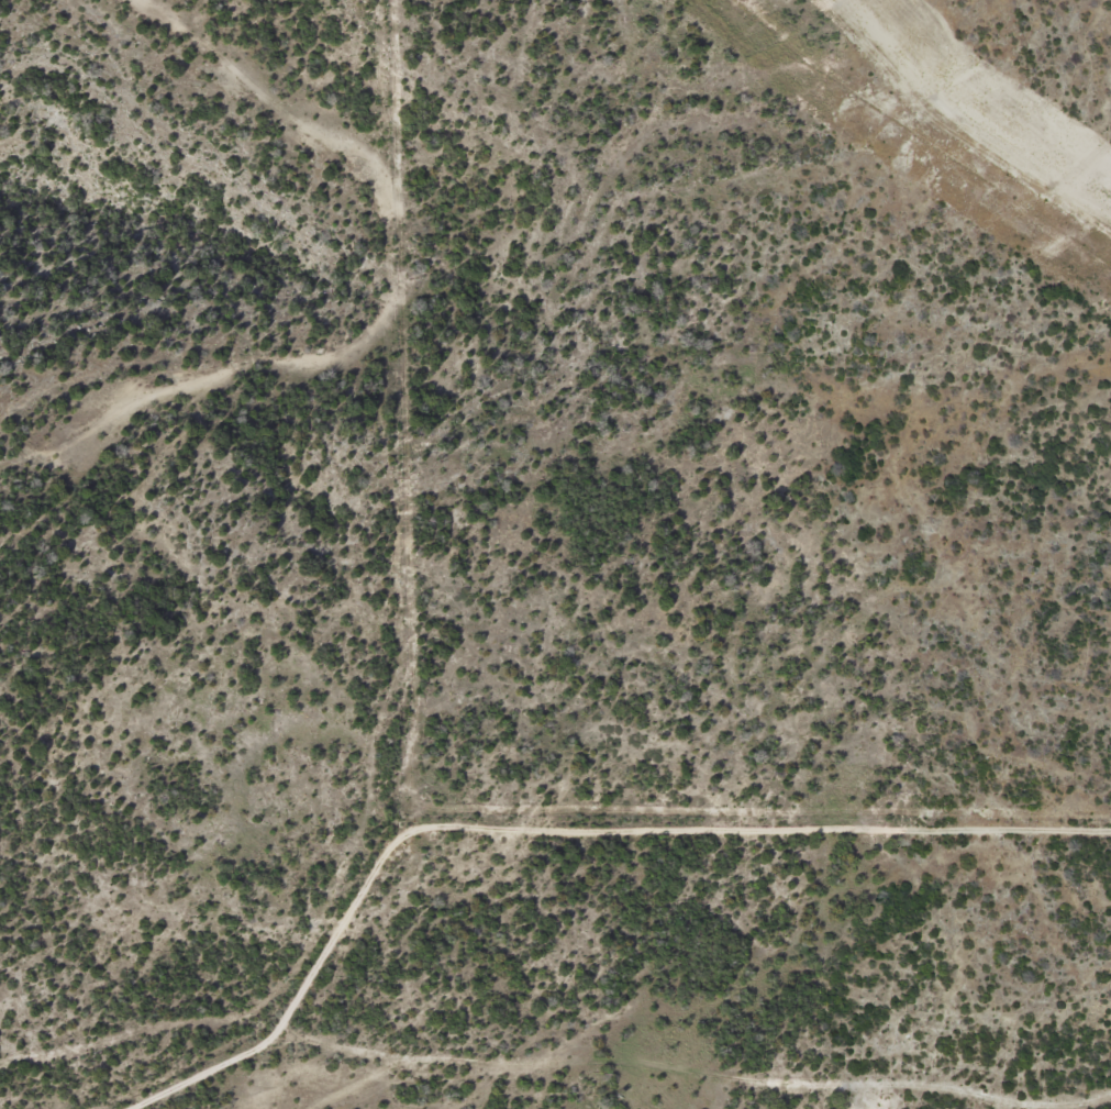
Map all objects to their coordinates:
road: (551, 1061)

